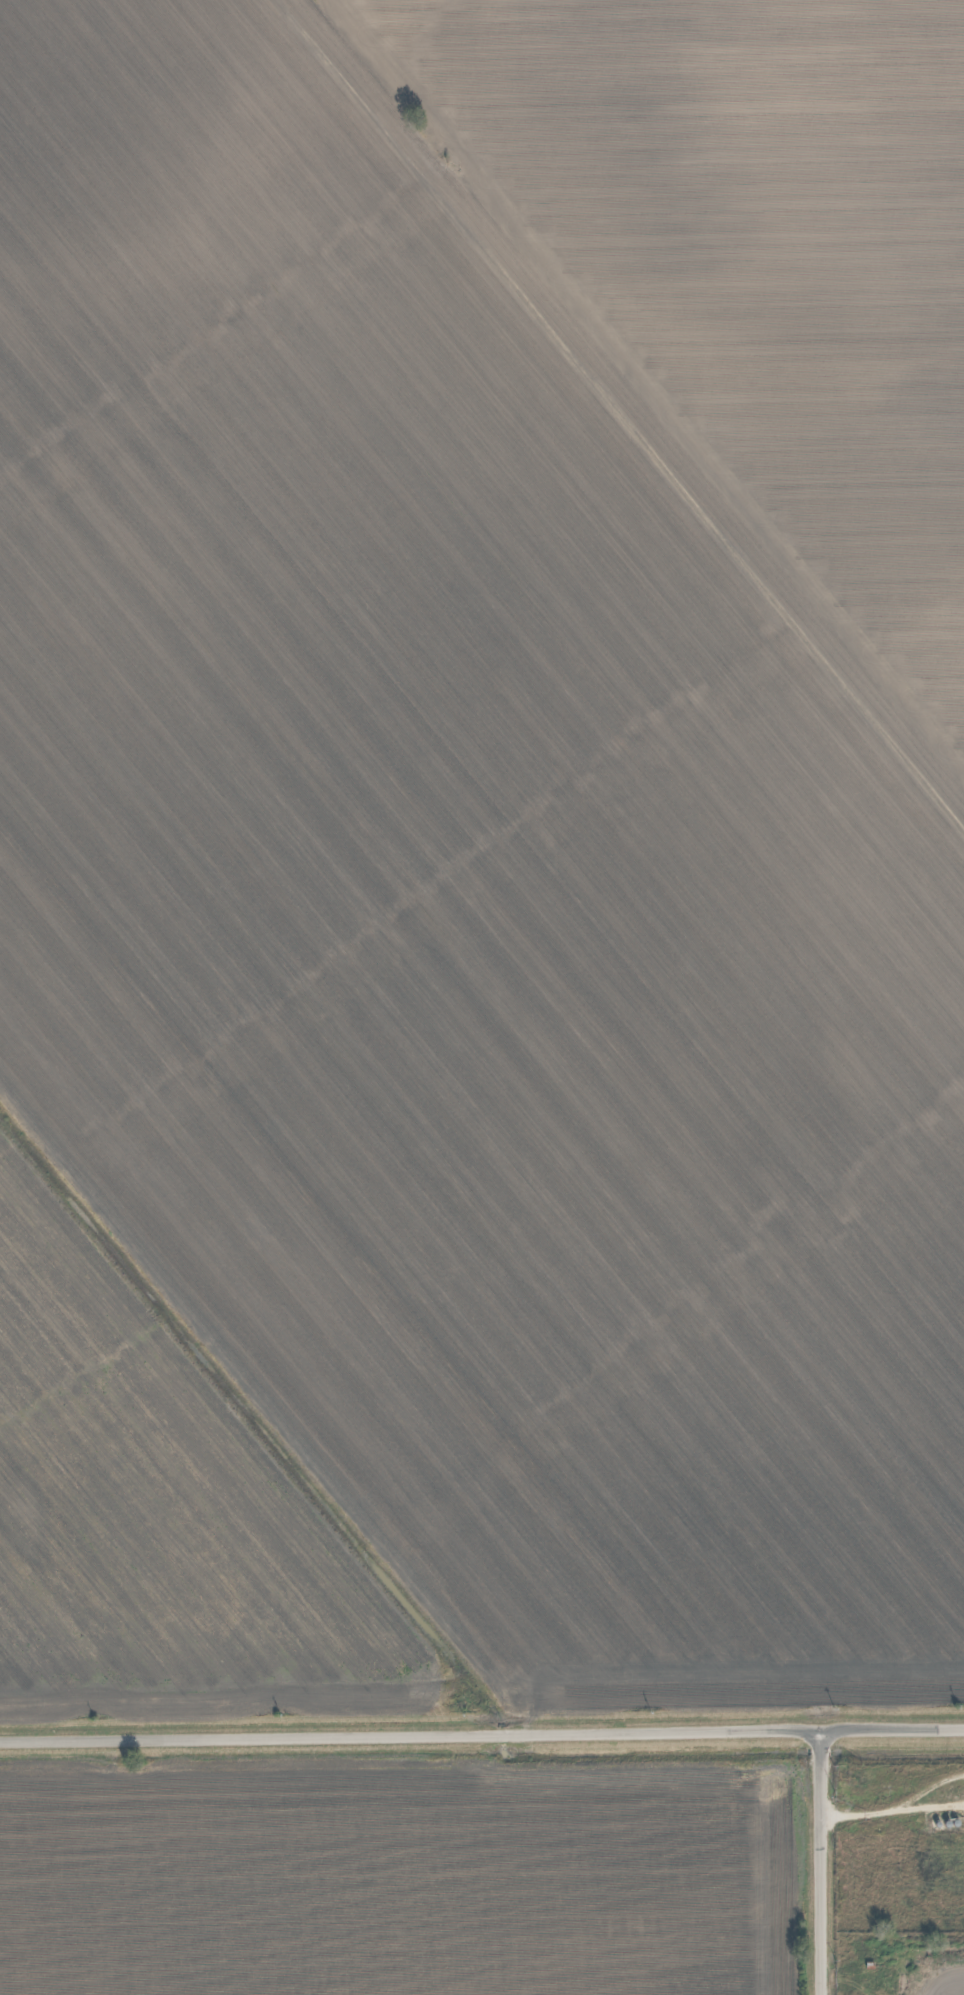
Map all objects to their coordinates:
road: (481, 1730)
road: (824, 1860)

